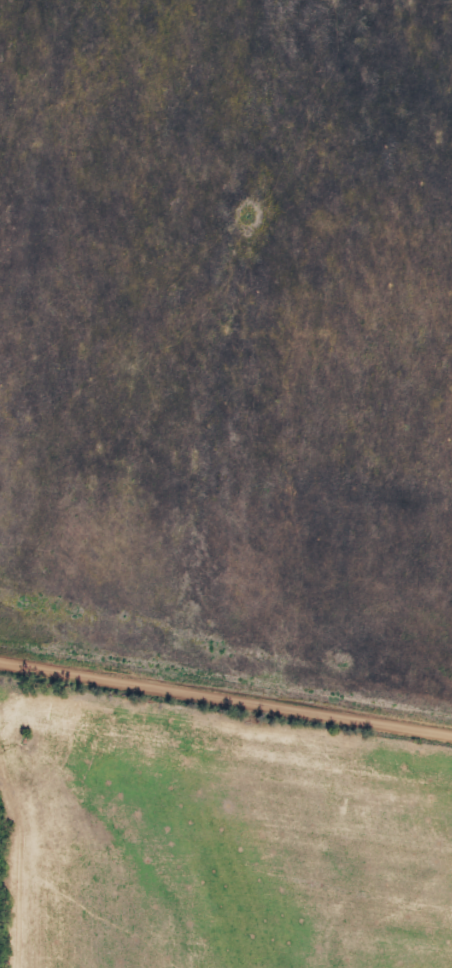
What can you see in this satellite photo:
road: (226, 699)

